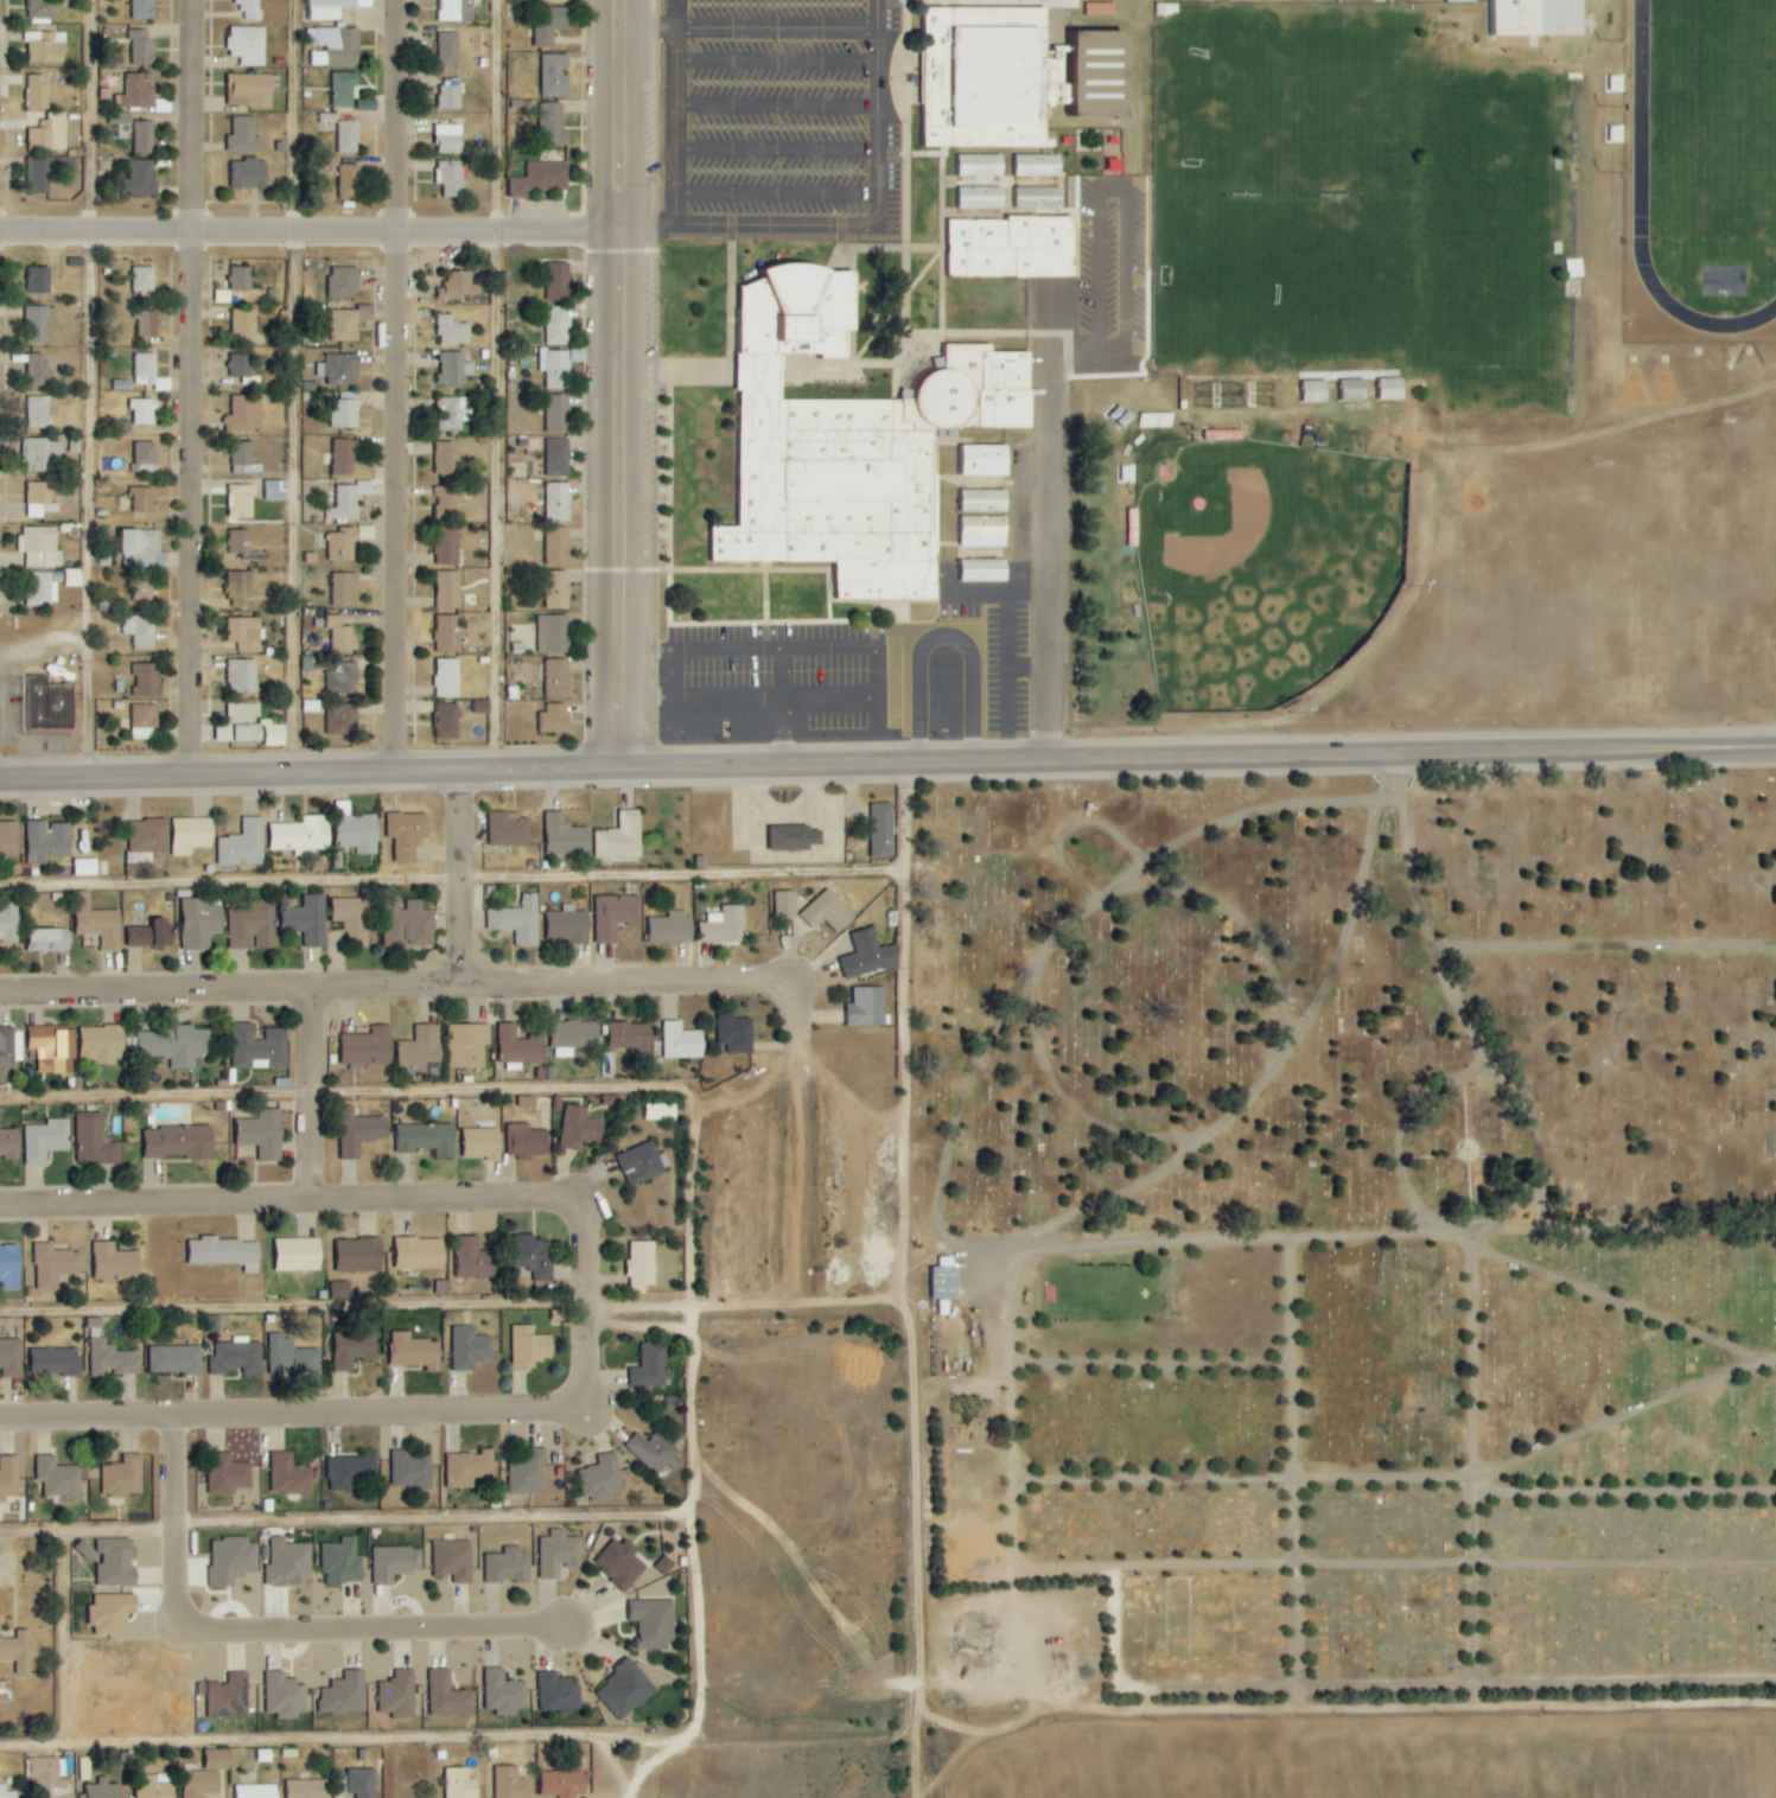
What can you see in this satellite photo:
building: (521, 0)
building: (558, 0)
building: (332, 8)
building: (42, 9)
building: (144, 9)
building: (249, 9)
building: (456, 11)
building: (1528, 17)
building: (550, 24)
building: (248, 45)
building: (142, 46)
building: (335, 46)
building: (45, 47)
building: (448, 49)
building: (555, 75)
building: (1025, 79)
building: (250, 90)
building: (345, 90)
building: (38, 91)
building: (136, 93)
building: (451, 94)
park: (1286, 104)
road: (199, 115)
road: (617, 115)
road: (399, 116)
building: (553, 125)
park: (1719, 126)
building: (49, 134)
building: (244, 134)
building: (144, 138)
building: (348, 138)
building: (450, 139)
building: (979, 165)
building: (40, 174)
building: (252, 174)
building: (452, 178)
building: (141, 179)
building: (540, 179)
building: (350, 180)
building: (980, 198)
building: (1039, 198)
road: (1642, 215)
road: (247, 232)
road: (556, 232)
park: (1500, 234)
building: (1013, 247)
park: (1288, 274)
building: (144, 279)
building: (242, 279)
building: (39, 280)
building: (559, 281)
building: (344, 282)
building: (460, 287)
building: (223, 297)
building: (349, 323)
building: (147, 324)
building: (36, 325)
building: (244, 325)
building: (558, 326)
building: (452, 331)
building: (578, 356)
building: (1596, 361)
building: (241, 368)
building: (555, 368)
building: (339, 370)
building: (454, 370)
building: (38, 371)
building: (148, 371)
road: (301, 387)
road: (498, 388)
road: (94, 389)
building: (1392, 389)
building: (1354, 390)
building: (1316, 391)
building: (142, 412)
building: (39, 413)
building: (345, 414)
building: (451, 414)
building: (558, 414)
building: (244, 415)
building: (851, 444)
building: (43, 454)
building: (145, 457)
building: (344, 457)
building: (559, 458)
building: (244, 459)
building: (446, 459)
building: (984, 460)
building: (276, 491)
building: (451, 497)
building: (39, 499)
building: (144, 499)
road: (184, 500)
building: (986, 500)
building: (241, 502)
building: (345, 502)
building: (558, 502)
road: (617, 502)
road: (406, 504)
road: (1056, 524)
building: (984, 533)
building: (345, 542)
building: (40, 547)
building: (244, 547)
building: (447, 547)
building: (559, 547)
building: (142, 549)
park: (1258, 565)
building: (985, 572)
building: (49, 586)
building: (142, 588)
building: (344, 589)
building: (241, 591)
building: (448, 591)
building: (558, 591)
building: (140, 632)
building: (246, 635)
building: (447, 635)
building: (554, 635)
building: (340, 636)
road: (700, 649)
road: (877, 672)
building: (243, 677)
building: (447, 678)
building: (558, 678)
building: (343, 680)
building: (146, 681)
road: (701, 702)
building: (50, 706)
road: (785, 707)
building: (554, 719)
building: (343, 720)
building: (144, 721)
building: (447, 722)
building: (250, 727)
road: (1347, 748)
road: (458, 774)
building: (508, 829)
building: (880, 830)
building: (357, 834)
building: (407, 834)
building: (191, 835)
building: (301, 835)
building: (148, 836)
building: (565, 837)
building: (620, 837)
building: (8, 839)
building: (794, 839)
building: (45, 842)
building: (244, 844)
building: (84, 867)
road: (457, 879)
road: (459, 880)
road: (1274, 881)
building: (785, 904)
building: (826, 911)
building: (615, 916)
building: (352, 918)
building: (305, 919)
building: (517, 920)
building: (8, 923)
building: (97, 923)
building: (202, 923)
building: (253, 926)
building: (409, 926)
building: (567, 926)
building: (724, 926)
building: (670, 929)
building: (161, 935)
building: (140, 937)
building: (51, 941)
road: (1441, 942)
road: (1609, 944)
building: (861, 955)
road: (419, 987)
building: (861, 1007)
building: (733, 1035)
building: (571, 1037)
building: (630, 1037)
road: (303, 1040)
building: (681, 1043)
building: (102, 1045)
building: (174, 1046)
building: (467, 1046)
building: (9, 1047)
building: (259, 1047)
building: (368, 1047)
building: (518, 1048)
building: (52, 1050)
building: (420, 1050)
road: (976, 1090)
road: (448, 1091)
road: (753, 1091)
road: (1096, 1108)
building: (660, 1112)
road: (1379, 1126)
building: (579, 1129)
building: (361, 1135)
building: (261, 1137)
building: (427, 1140)
building: (45, 1141)
building: (526, 1142)
building: (9, 1143)
building: (94, 1143)
building: (179, 1143)
building: (482, 1145)
road: (303, 1148)
building: (639, 1163)
road: (806, 1163)
road: (1559, 1186)
road: (1520, 1187)
road: (401, 1201)
road: (1070, 1223)
road: (1695, 1230)
road: (1546, 1233)
road: (1258, 1239)
building: (225, 1252)
building: (420, 1254)
building: (298, 1255)
building: (359, 1255)
building: (536, 1258)
building: (475, 1260)
building: (115, 1263)
building: (636, 1263)
building: (53, 1265)
building: (9, 1267)
building: (936, 1280)
building: (340, 1290)
road: (1624, 1303)
road: (457, 1307)
road: (915, 1309)
building: (214, 1324)
building: (470, 1348)
building: (529, 1348)
building: (355, 1350)
building: (415, 1352)
building: (238, 1357)
building: (292, 1357)
building: (11, 1358)
building: (113, 1360)
building: (176, 1360)
building: (56, 1362)
building: (648, 1365)
road: (1160, 1367)
road: (687, 1379)
road: (300, 1414)
building: (655, 1452)
building: (412, 1468)
building: (469, 1468)
building: (352, 1469)
road: (1478, 1472)
building: (528, 1473)
building: (228, 1474)
building: (289, 1474)
road: (1301, 1474)
building: (8, 1477)
building: (122, 1477)
building: (601, 1477)
building: (58, 1478)
road: (1407, 1480)
road: (1628, 1493)
road: (168, 1517)
road: (343, 1524)
building: (558, 1552)
building: (112, 1560)
building: (231, 1560)
building: (453, 1560)
building: (343, 1562)
building: (287, 1563)
building: (395, 1563)
building: (622, 1563)
road: (1399, 1564)
building: (508, 1566)
building: (112, 1613)
building: (654, 1622)
road: (367, 1628)
road: (59, 1637)
building: (18, 1651)
road: (699, 1668)
building: (625, 1688)
building: (504, 1692)
building: (559, 1692)
building: (285, 1695)
building: (344, 1695)
building: (397, 1695)
building: (447, 1695)
building: (229, 1696)
power substation: (123, 1698)
road: (1158, 1713)
power tower: (125, 1736)
road: (361, 1739)
road: (30, 1743)
road: (927, 1752)
building: (218, 1759)
building: (84, 1768)
building: (51, 1778)
building: (362, 1783)
building: (510, 1783)
building: (200, 1784)
building: (459, 1784)
building: (564, 1784)
building: (153, 1787)
building: (308, 1789)
building: (104, 1790)
building: (255, 1791)
building: (7, 1792)

